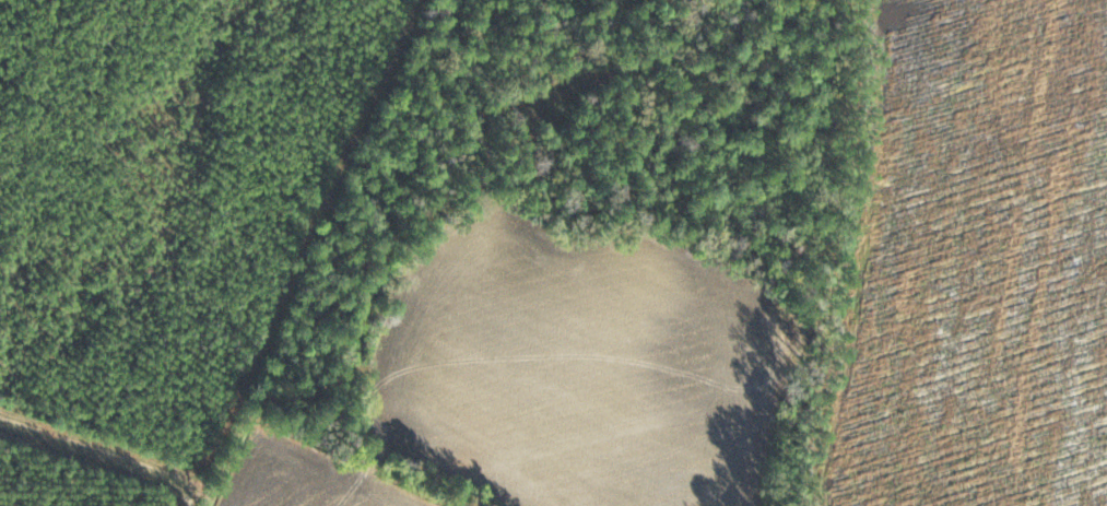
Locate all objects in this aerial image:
road: (288, 361)

